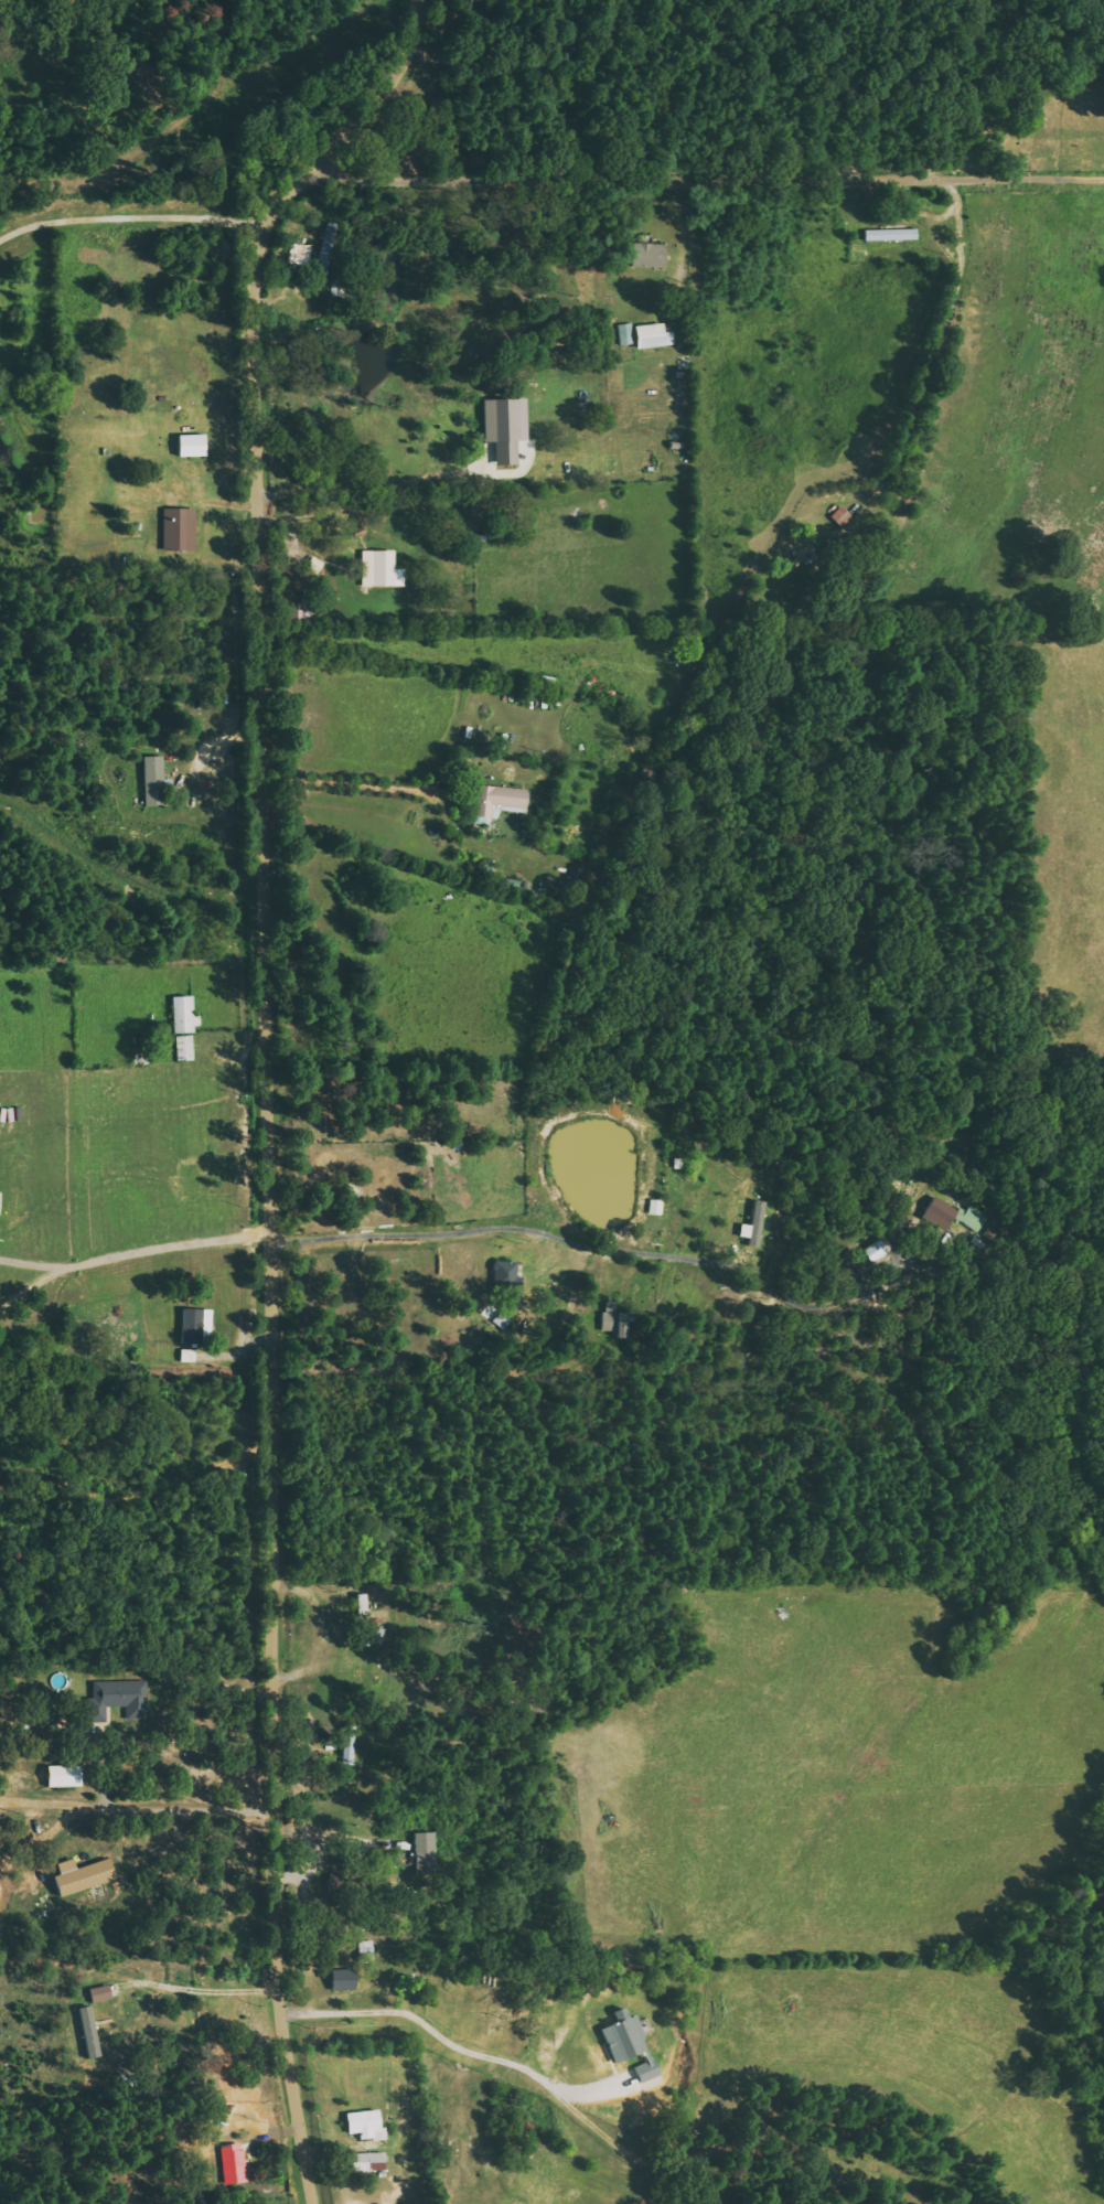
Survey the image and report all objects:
road: (712, 169)
building: (892, 235)
building: (328, 247)
building: (651, 256)
building: (626, 334)
building: (655, 336)
building: (507, 429)
building: (194, 446)
building: (180, 529)
building: (382, 569)
building: (156, 780)
building: (502, 800)
building: (184, 1014)
road: (271, 1074)
building: (954, 1215)
building: (759, 1223)
building: (878, 1251)
building: (508, 1275)
building: (618, 1319)
building: (195, 1325)
building: (120, 1698)
building: (349, 1745)
building: (66, 1776)
building: (427, 1853)
building: (85, 1875)
building: (345, 1979)
building: (92, 2032)
building: (631, 2044)
building: (365, 2123)
building: (368, 2161)
building: (234, 2163)

